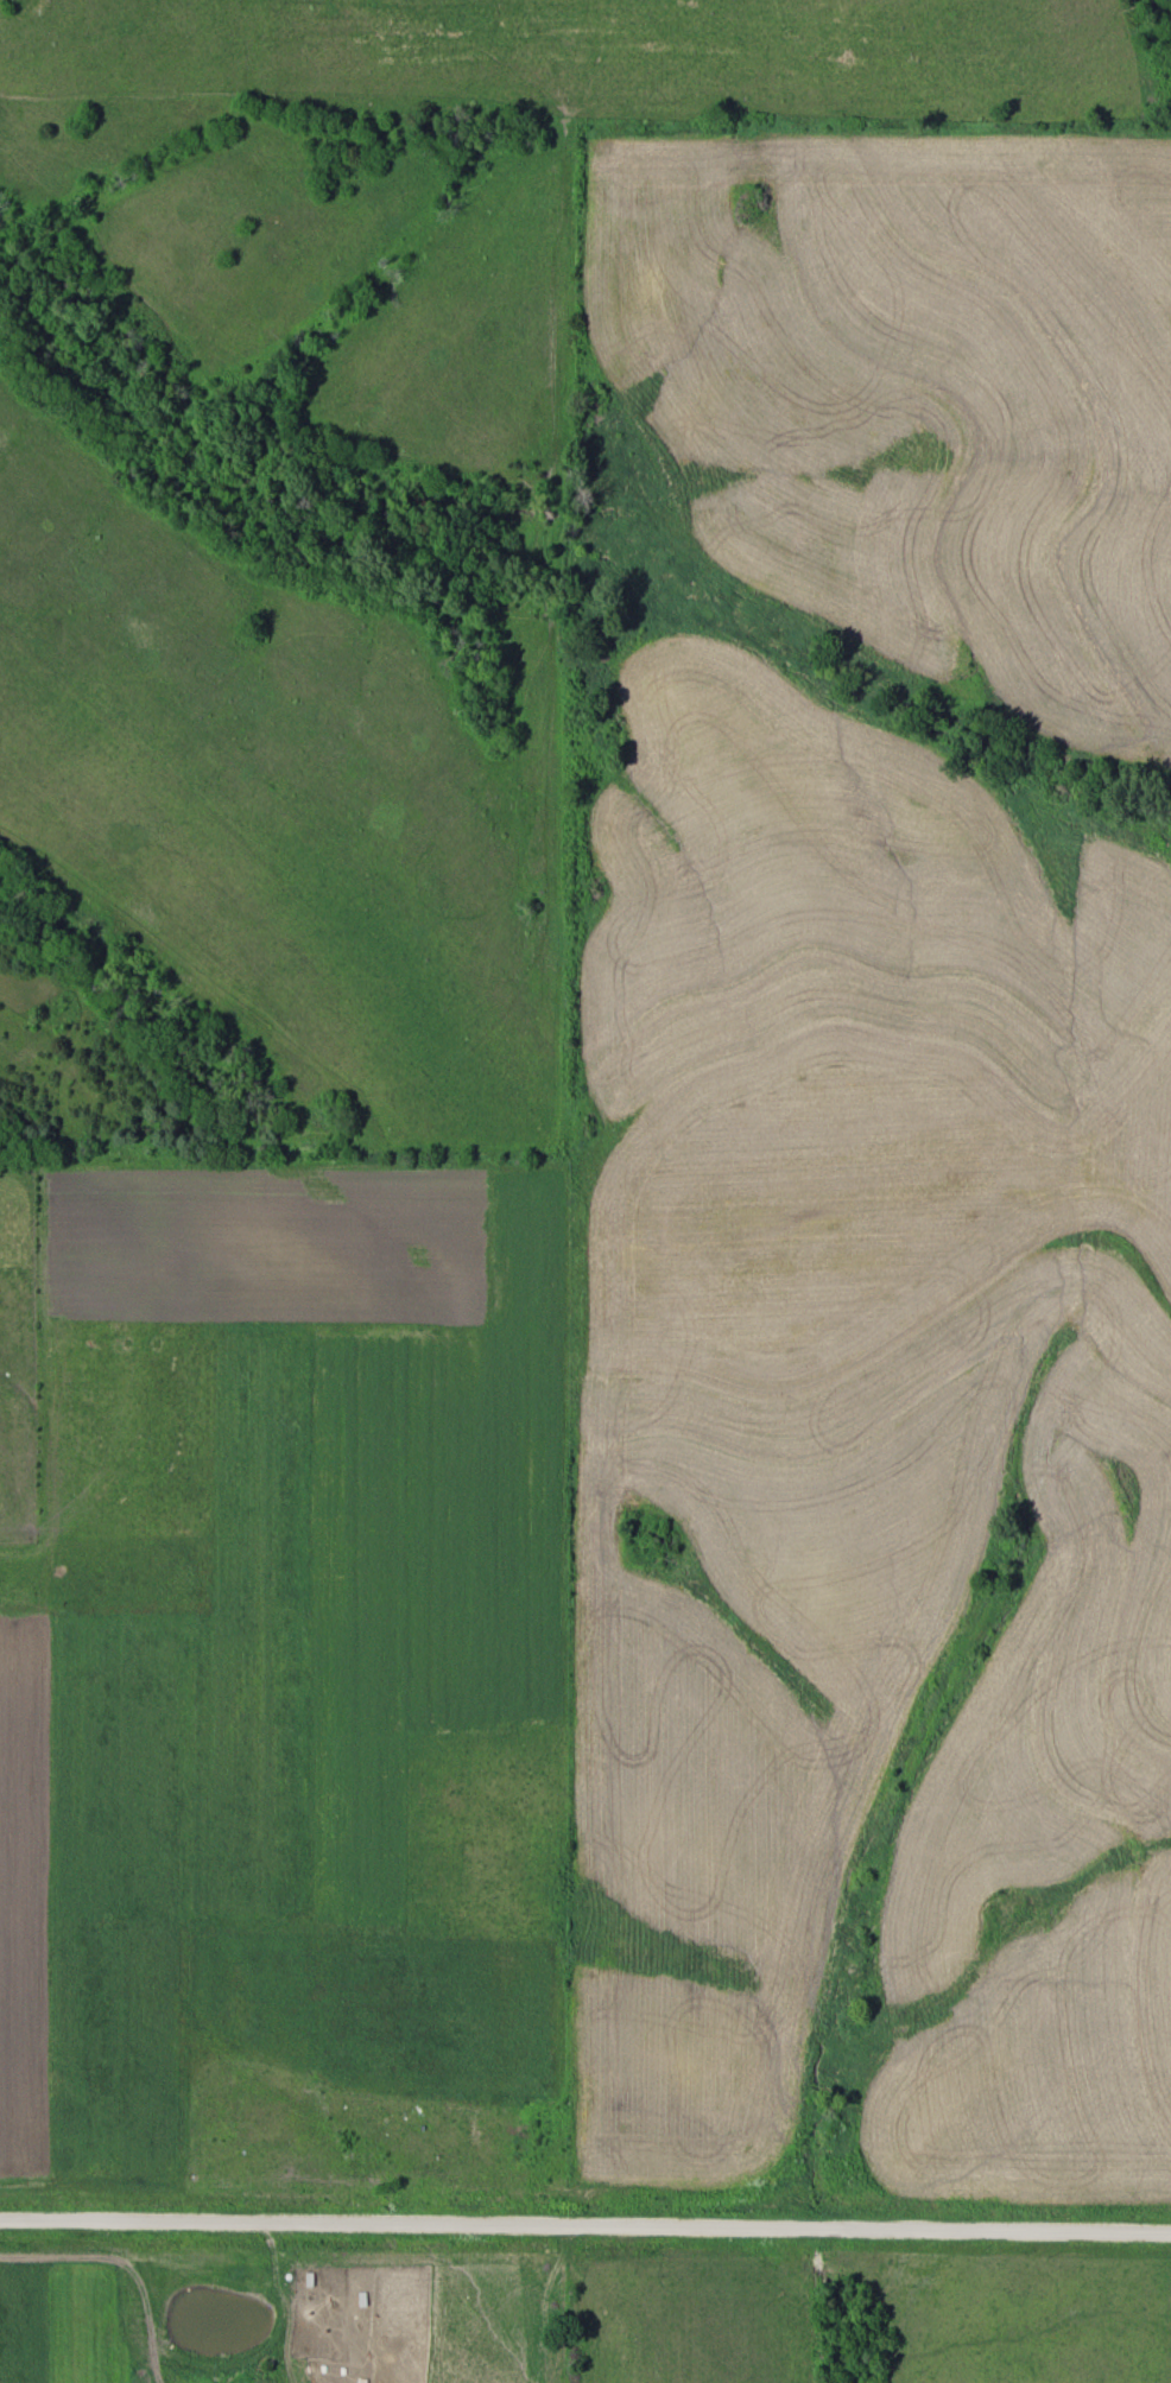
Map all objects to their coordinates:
road: (585, 2226)

